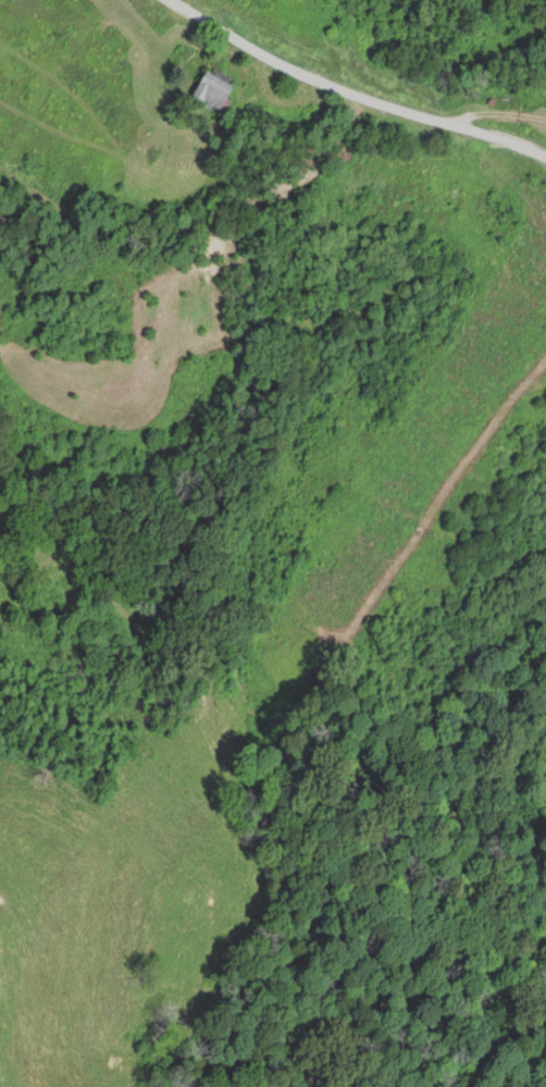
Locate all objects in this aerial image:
building: (209, 91)
road: (359, 97)

